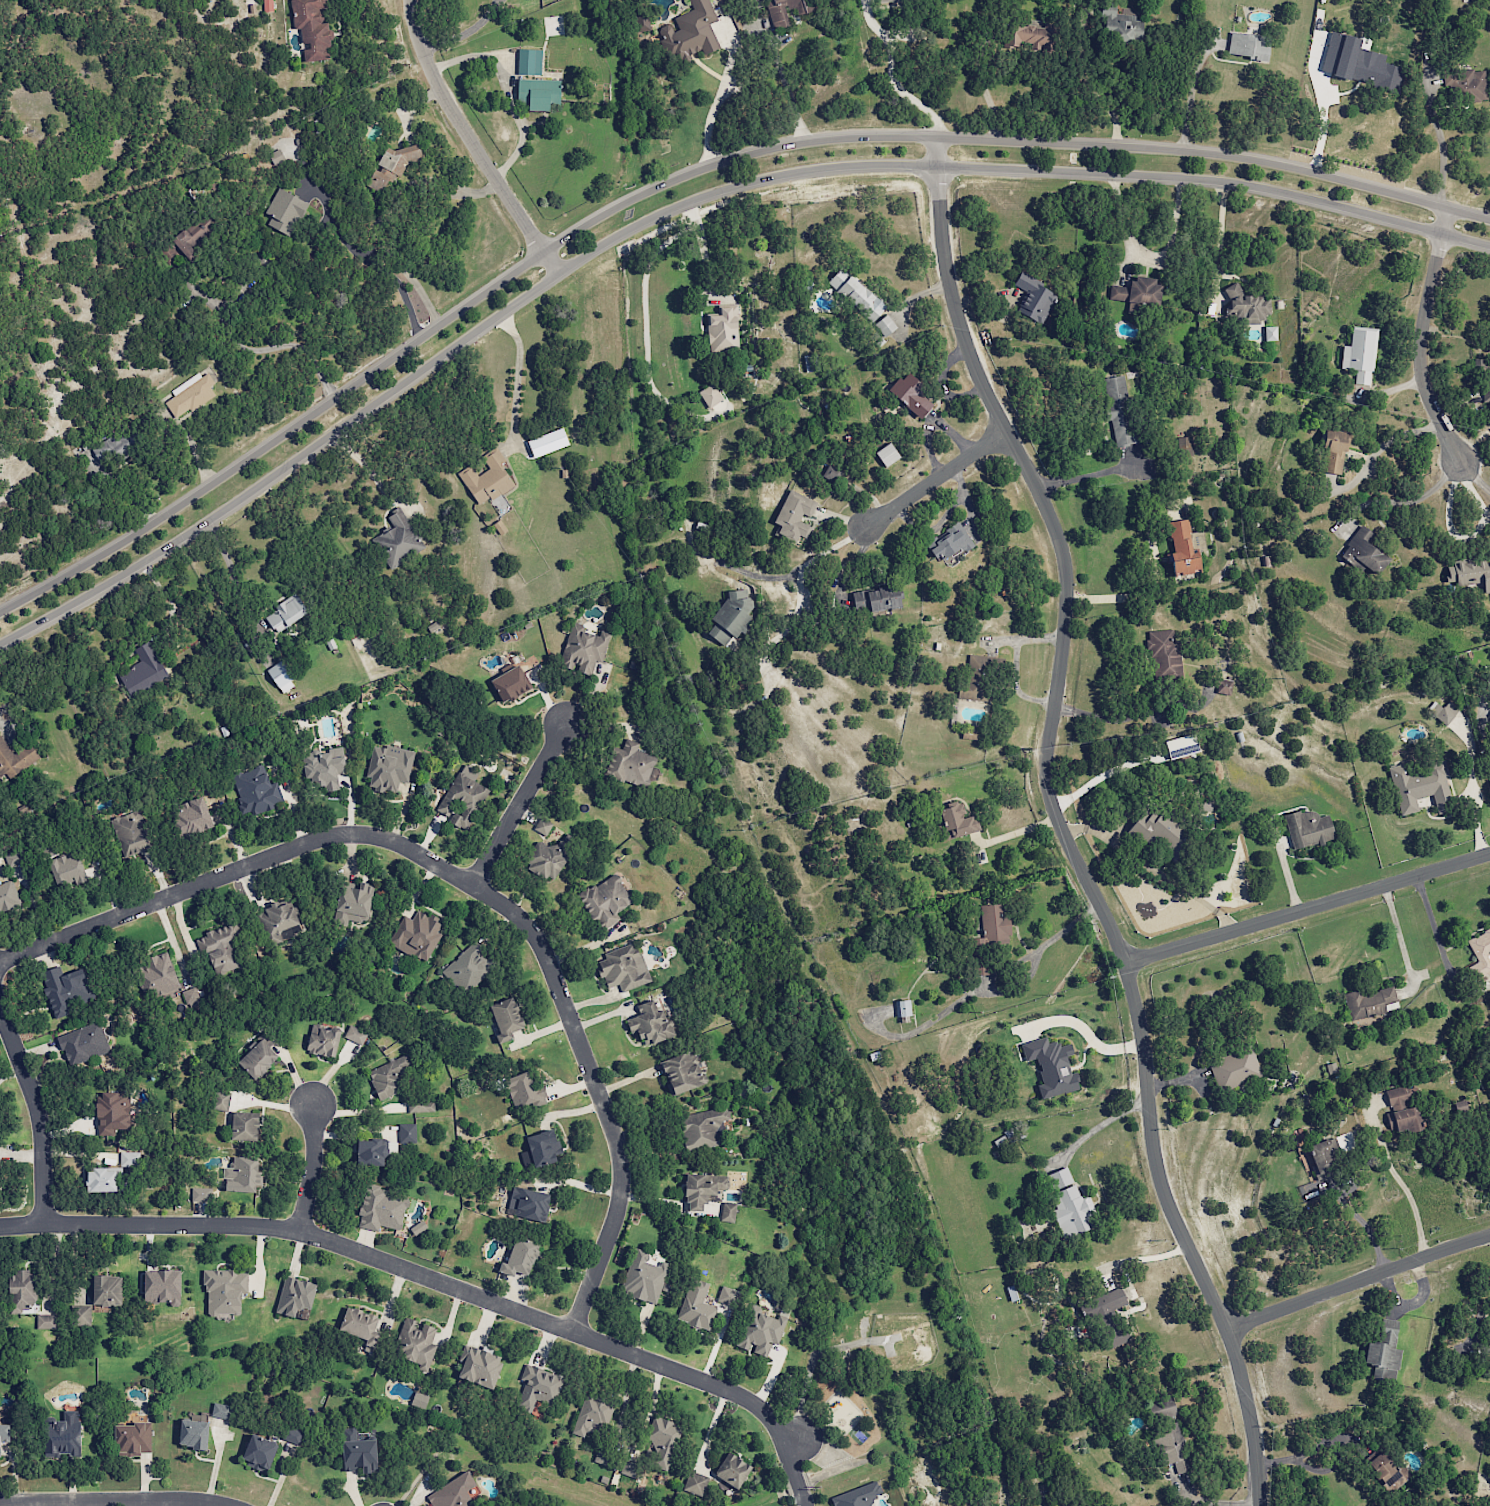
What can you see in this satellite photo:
building: (884, 1)
building: (783, 11)
building: (1118, 25)
building: (315, 28)
building: (688, 32)
building: (1024, 35)
building: (1246, 46)
road: (93, 50)
building: (527, 61)
building: (1356, 63)
road: (891, 74)
building: (1464, 84)
road: (505, 87)
road: (787, 89)
building: (537, 93)
road: (1192, 103)
road: (1320, 128)
road: (1444, 141)
road: (470, 142)
building: (277, 156)
building: (390, 168)
road: (686, 174)
road: (684, 203)
building: (286, 210)
road: (1218, 229)
road: (699, 245)
road: (378, 269)
building: (1136, 291)
building: (853, 294)
building: (1031, 298)
building: (1245, 306)
building: (882, 324)
building: (722, 329)
building: (1268, 333)
road: (1422, 339)
road: (266, 349)
building: (1358, 355)
road: (518, 373)
building: (1483, 379)
building: (191, 394)
building: (709, 396)
building: (906, 396)
building: (1117, 409)
building: (545, 443)
building: (117, 445)
building: (1327, 448)
building: (884, 455)
road: (365, 464)
road: (1089, 475)
road: (939, 478)
building: (486, 479)
road: (1476, 480)
road: (1403, 503)
building: (792, 515)
building: (398, 538)
building: (946, 541)
building: (1182, 548)
building: (1362, 551)
building: (1469, 573)
road: (799, 577)
building: (875, 598)
building: (284, 614)
building: (730, 616)
building: (583, 649)
building: (1162, 652)
building: (144, 670)
building: (280, 677)
building: (972, 678)
building: (1488, 680)
building: (507, 682)
building: (1222, 686)
building: (1442, 711)
road: (1118, 720)
building: (1180, 746)
building: (18, 758)
building: (630, 766)
building: (322, 768)
building: (387, 769)
building: (1417, 785)
building: (256, 790)
building: (462, 799)
road: (519, 804)
building: (196, 816)
building: (953, 821)
road: (1060, 825)
building: (541, 826)
building: (1152, 828)
building: (1305, 828)
building: (136, 833)
building: (16, 857)
building: (544, 861)
building: (72, 868)
road: (470, 883)
building: (9, 897)
building: (603, 902)
building: (349, 903)
road: (1307, 906)
building: (277, 922)
building: (993, 923)
road: (1397, 933)
building: (417, 935)
building: (224, 949)
building: (1479, 951)
building: (621, 967)
building: (466, 969)
building: (162, 975)
building: (70, 989)
building: (193, 996)
building: (1370, 1001)
building: (901, 1007)
building: (502, 1018)
building: (647, 1024)
road: (1087, 1032)
building: (355, 1035)
building: (322, 1040)
building: (87, 1043)
building: (257, 1059)
building: (1049, 1067)
building: (1329, 1067)
building: (1234, 1068)
building: (680, 1071)
building: (386, 1076)
building: (521, 1091)
building: (1395, 1097)
building: (220, 1100)
building: (420, 1105)
building: (109, 1111)
road: (38, 1112)
building: (1401, 1119)
building: (240, 1125)
building: (702, 1127)
road: (1098, 1127)
building: (407, 1133)
building: (538, 1148)
building: (367, 1151)
building: (1319, 1155)
building: (128, 1159)
road: (312, 1169)
building: (239, 1175)
building: (96, 1180)
building: (700, 1188)
building: (199, 1194)
road: (1410, 1197)
building: (1067, 1201)
building: (528, 1205)
building: (378, 1209)
building: (727, 1212)
road: (1364, 1222)
building: (415, 1228)
building: (518, 1257)
building: (643, 1278)
road: (1357, 1281)
road: (442, 1282)
building: (161, 1286)
building: (19, 1291)
building: (105, 1291)
building: (224, 1292)
building: (726, 1295)
building: (291, 1296)
building: (1108, 1301)
building: (696, 1306)
building: (1489, 1309)
building: (82, 1315)
building: (46, 1321)
building: (358, 1326)
building: (759, 1330)
building: (1111, 1336)
building: (414, 1344)
building: (1380, 1347)
building: (477, 1368)
building: (537, 1386)
building: (418, 1400)
building: (1160, 1410)
building: (219, 1411)
building: (591, 1414)
building: (3, 1430)
building: (191, 1434)
building: (60, 1435)
building: (292, 1435)
building: (131, 1438)
road: (796, 1438)
building: (661, 1441)
building: (1171, 1448)
building: (354, 1451)
building: (254, 1452)
road: (1297, 1462)
building: (730, 1469)
building: (629, 1470)
building: (1384, 1475)
building: (694, 1483)
building: (451, 1493)
building: (854, 1496)
road: (114, 1500)
road: (16, 1504)

